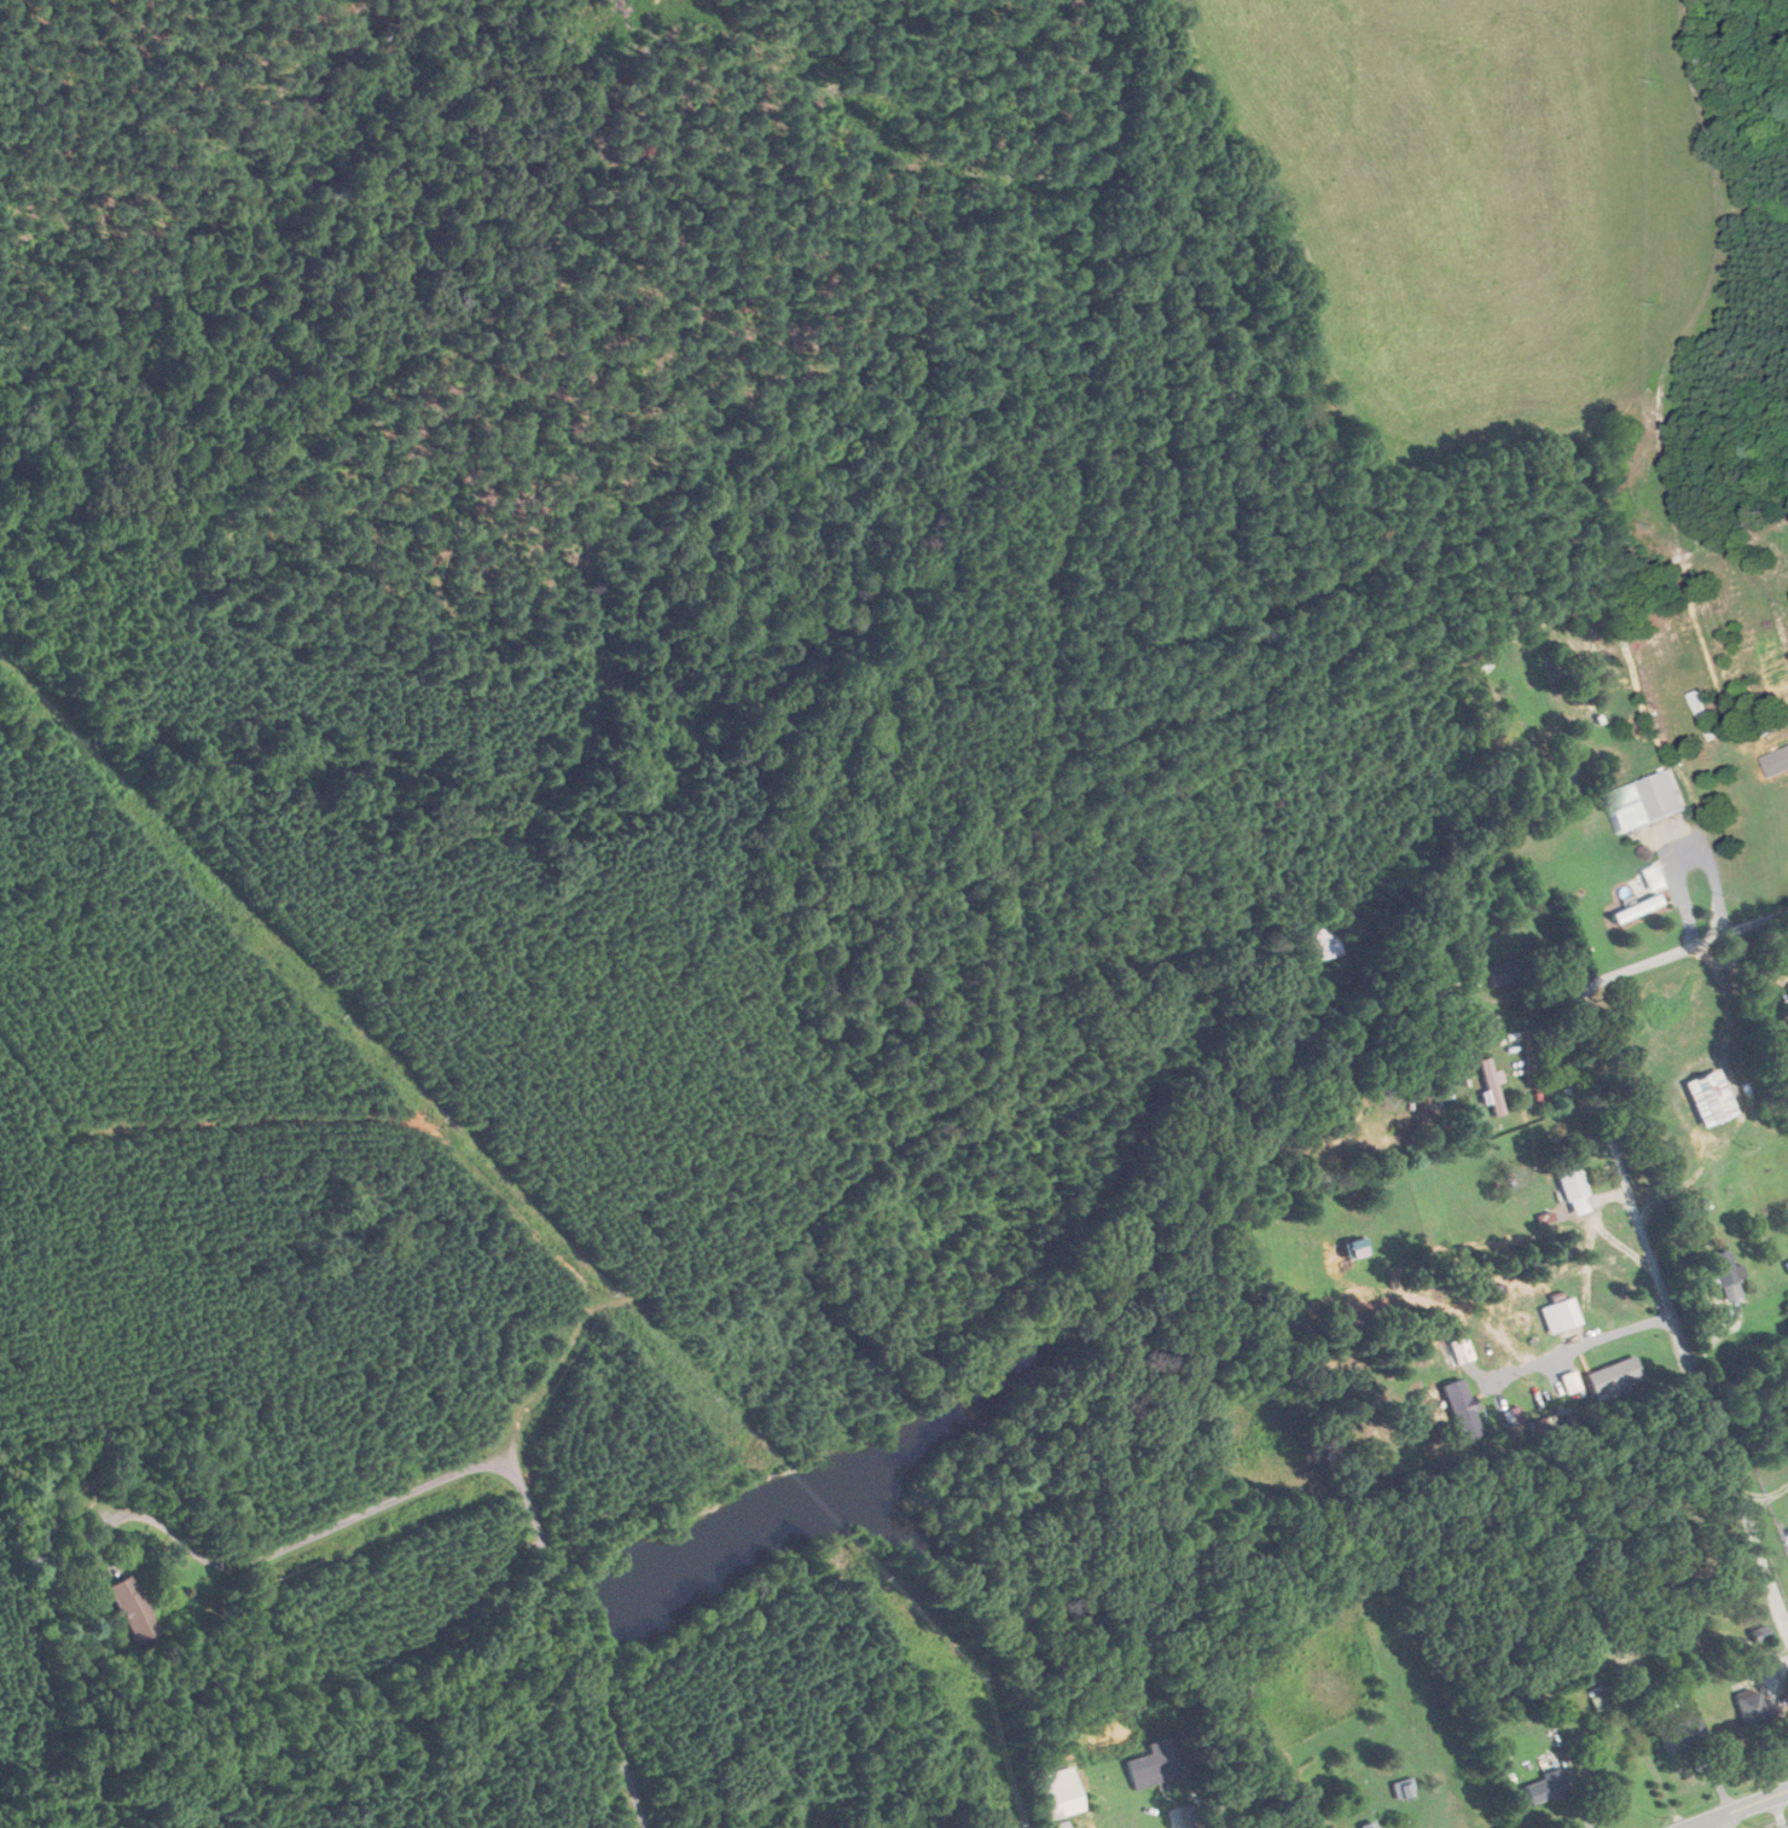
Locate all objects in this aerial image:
building: (1774, 771)
building: (1647, 801)
building: (1638, 909)
building: (1323, 944)
road: (1649, 963)
building: (1504, 971)
building: (1492, 1086)
building: (1711, 1098)
building: (1574, 1189)
building: (1787, 1264)
building: (1728, 1273)
building: (1561, 1315)
road: (1683, 1337)
road: (1587, 1344)
building: (1452, 1353)
building: (1615, 1377)
building: (1478, 1423)
road: (463, 1469)
building: (134, 1609)
building: (1751, 1707)
building: (1682, 1731)
building: (1150, 1762)
building: (1545, 1787)
road: (1736, 1807)
road: (1713, 1822)
building: (1372, 1824)
road: (1192, 1827)

